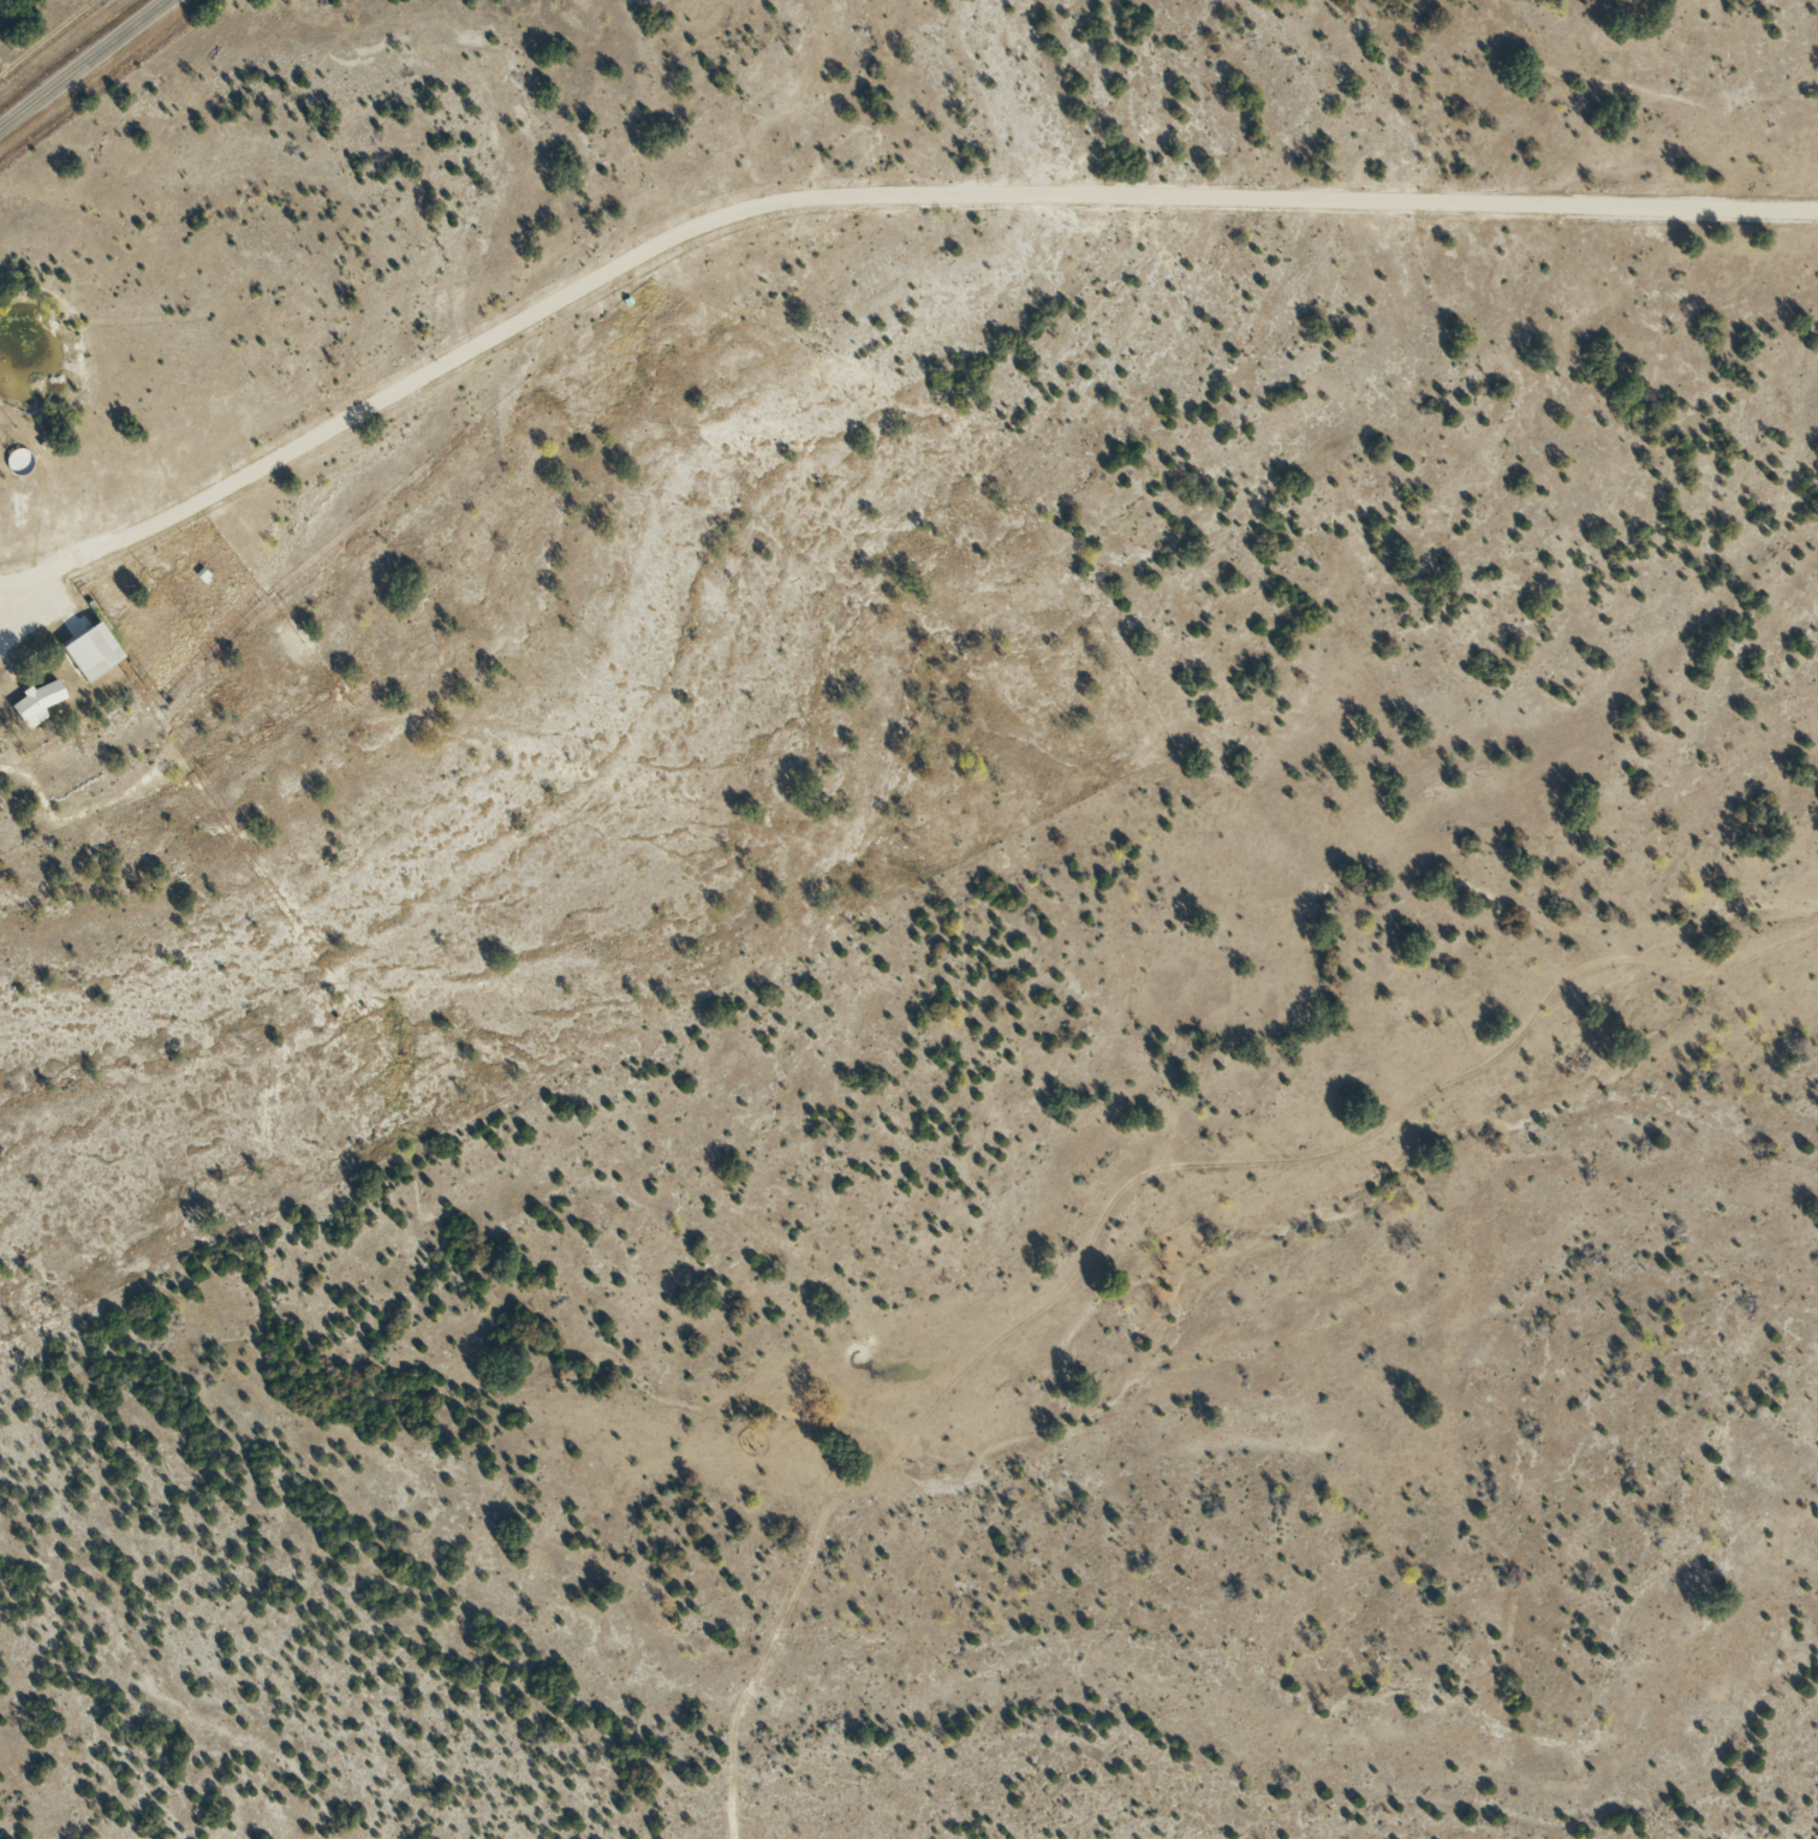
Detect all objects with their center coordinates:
road: (87, 67)
road: (859, 190)
building: (89, 650)
building: (35, 701)

